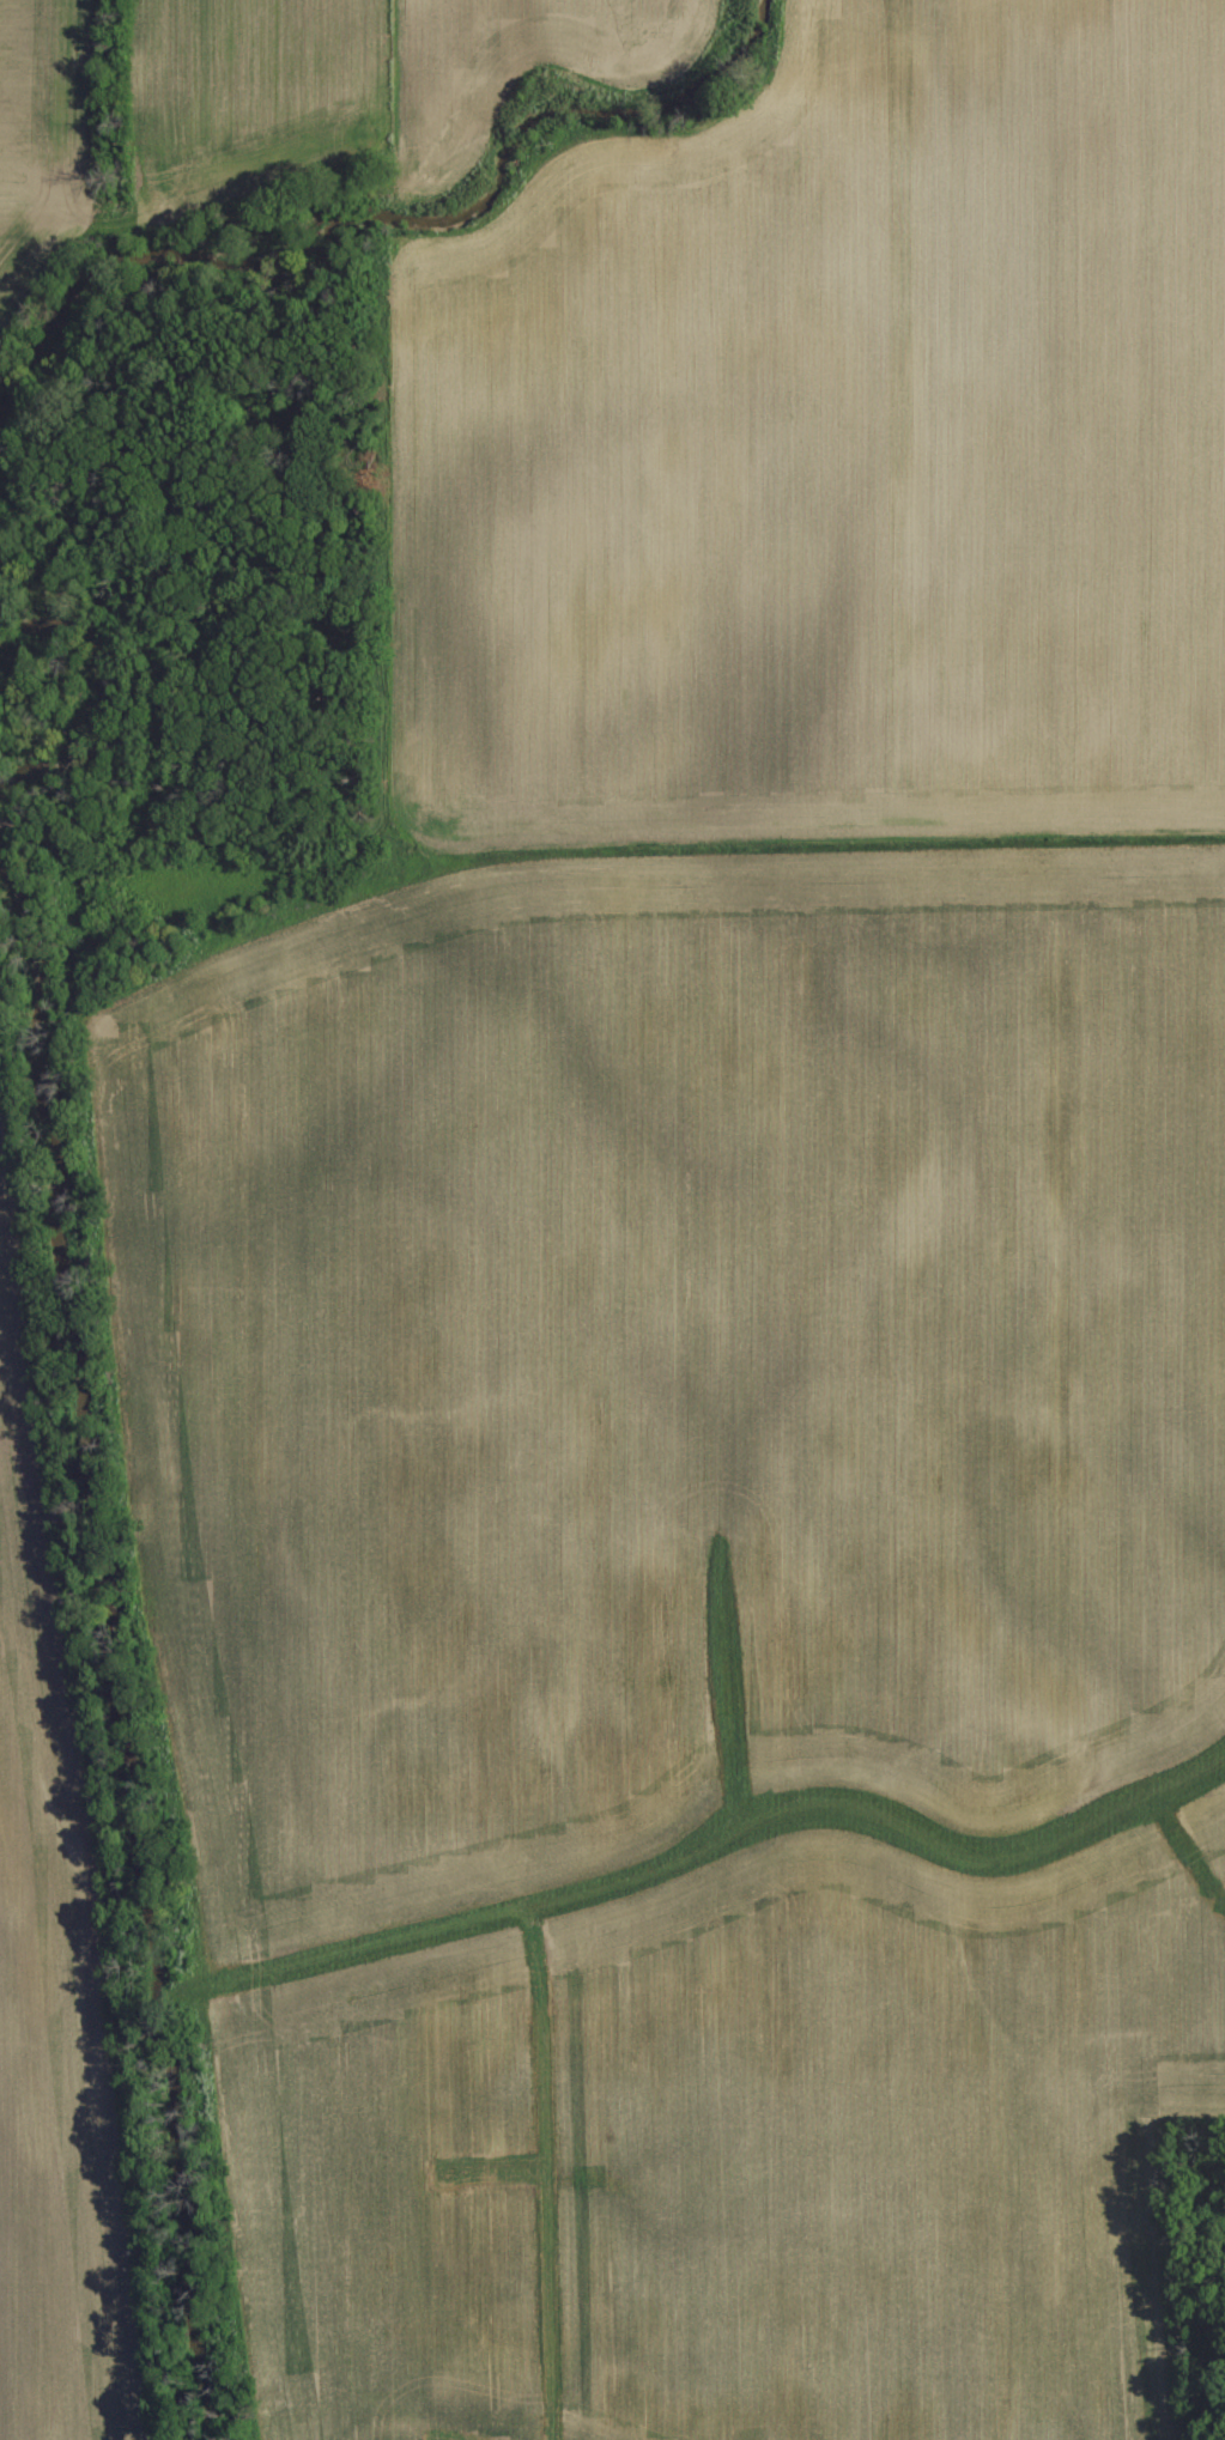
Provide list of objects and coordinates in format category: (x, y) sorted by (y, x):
road: (1158, 2242)

